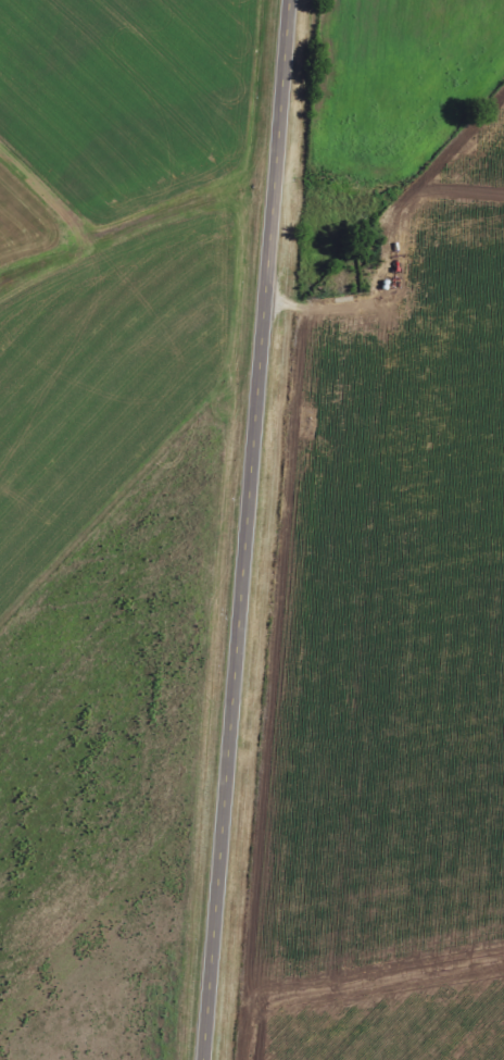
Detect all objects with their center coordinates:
road: (243, 529)

